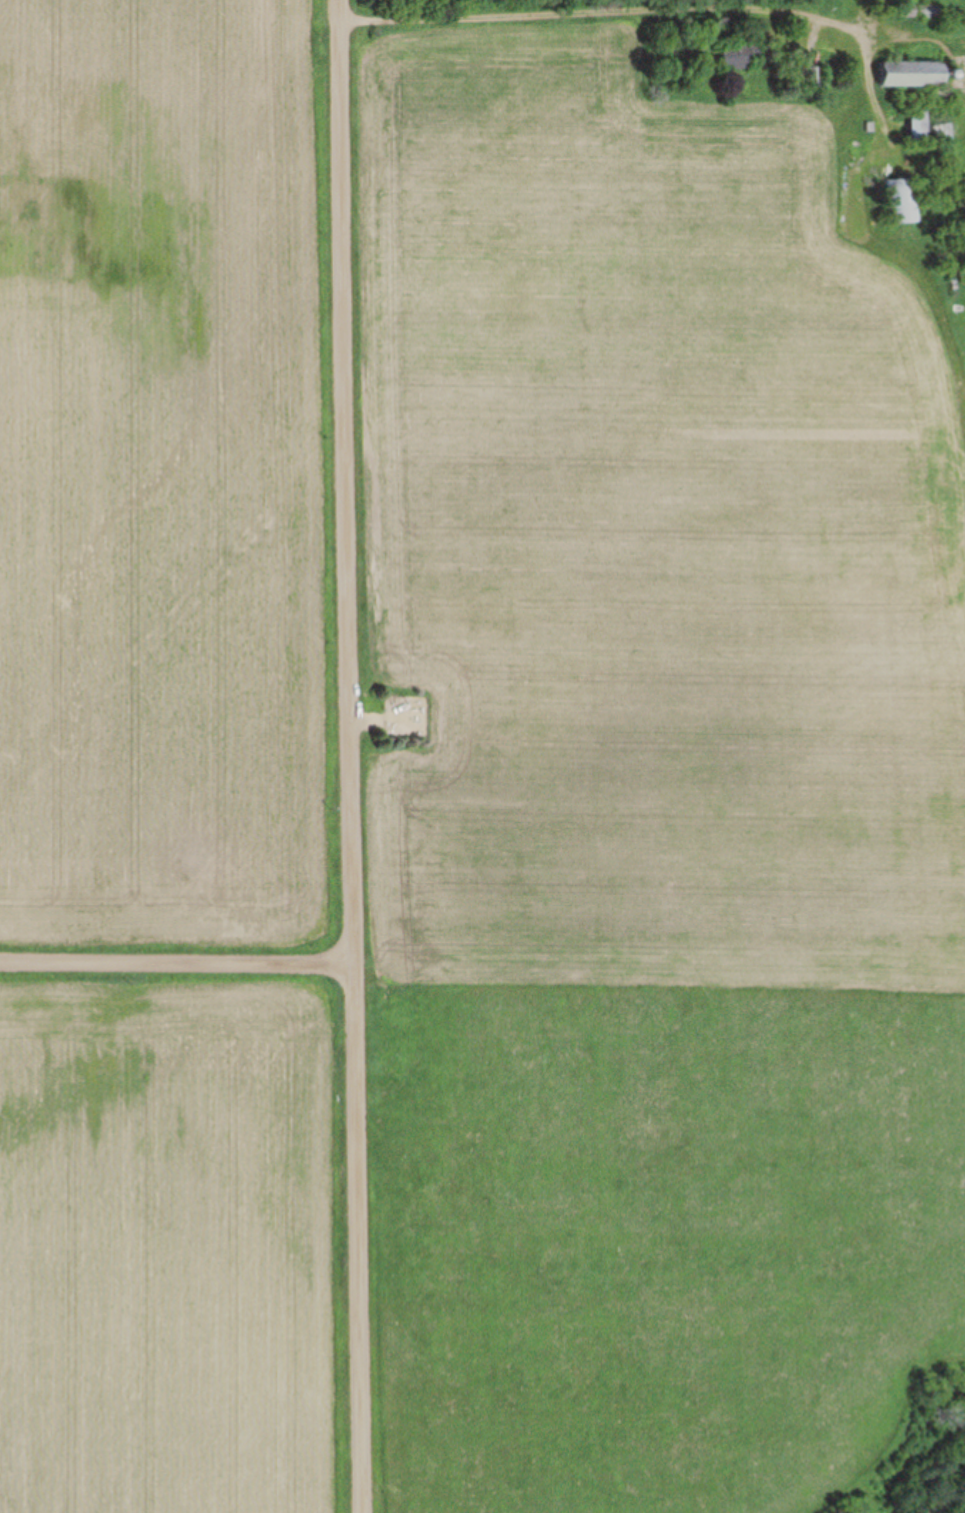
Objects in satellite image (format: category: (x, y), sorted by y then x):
building: (915, 8)
road: (607, 16)
building: (740, 54)
building: (912, 72)
building: (811, 81)
building: (899, 200)
park: (659, 754)
road: (351, 756)
road: (177, 963)

